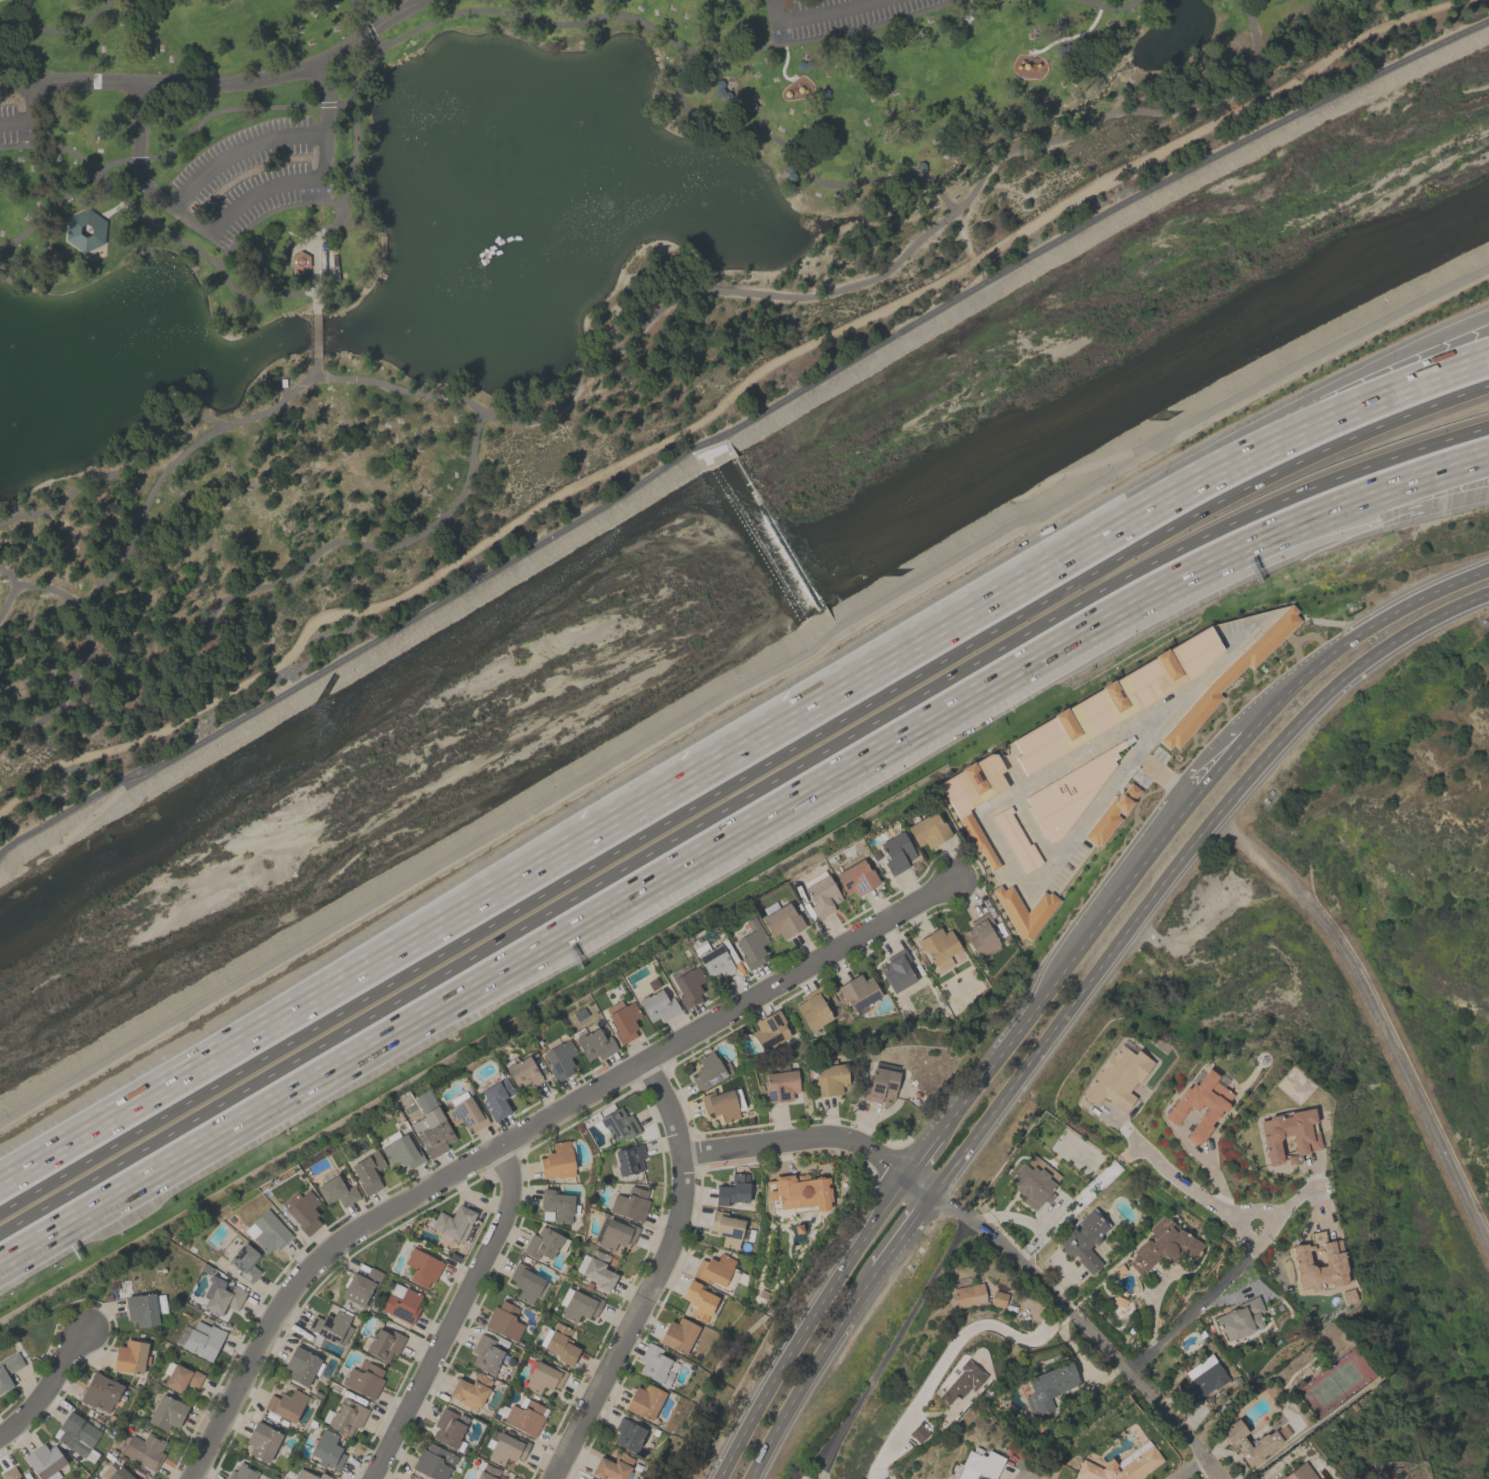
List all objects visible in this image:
road: (424, 0)
road: (1109, 8)
road: (820, 16)
road: (537, 20)
road: (366, 24)
road: (62, 29)
road: (223, 84)
road: (215, 112)
road: (27, 118)
road: (324, 121)
road: (239, 153)
road: (964, 166)
road: (140, 176)
road: (259, 192)
road: (939, 193)
road: (52, 210)
road: (112, 210)
road: (267, 211)
river: (1384, 227)
road: (164, 231)
road: (103, 243)
road: (967, 247)
building: (299, 262)
park: (494, 281)
road: (745, 289)
road: (316, 336)
road: (723, 401)
road: (737, 427)
road: (153, 430)
road: (1204, 459)
road: (1421, 474)
road: (1207, 487)
road: (146, 504)
road: (386, 550)
road: (1259, 560)
road: (13, 591)
river: (639, 628)
road: (1356, 636)
road: (85, 656)
road: (742, 687)
building: (1115, 700)
road: (766, 739)
road: (1212, 762)
road: (1125, 769)
road: (1161, 775)
road: (732, 779)
building: (1068, 793)
building: (973, 797)
road: (731, 803)
building: (928, 830)
building: (1016, 839)
building: (896, 852)
road: (1175, 859)
road: (671, 871)
building: (856, 877)
building: (821, 894)
building: (1023, 910)
building: (780, 919)
building: (980, 935)
building: (751, 944)
building: (939, 947)
building: (713, 959)
road: (1057, 962)
building: (896, 970)
building: (689, 987)
building: (858, 991)
building: (658, 1005)
building: (813, 1009)
road: (297, 1012)
road: (1374, 1012)
building: (622, 1019)
park: (1369, 1020)
building: (770, 1030)
building: (594, 1044)
building: (559, 1057)
building: (709, 1070)
building: (522, 1072)
building: (829, 1078)
building: (1117, 1078)
building: (880, 1085)
building: (780, 1086)
building: (497, 1098)
building: (723, 1104)
building: (1200, 1104)
building: (465, 1112)
building: (617, 1121)
building: (431, 1126)
road: (527, 1132)
building: (1288, 1133)
road: (814, 1139)
building: (401, 1150)
road: (916, 1152)
building: (629, 1159)
building: (558, 1161)
building: (368, 1172)
road: (1216, 1176)
building: (1033, 1181)
road: (1189, 1188)
building: (336, 1189)
building: (733, 1189)
building: (797, 1194)
road: (1295, 1198)
building: (630, 1204)
building: (557, 1205)
road: (1315, 1205)
building: (302, 1210)
building: (452, 1224)
building: (726, 1228)
building: (267, 1231)
road: (901, 1233)
building: (616, 1234)
building: (1084, 1239)
building: (545, 1243)
building: (1162, 1245)
building: (245, 1261)
building: (1331, 1265)
building: (422, 1267)
building: (598, 1270)
building: (718, 1272)
road: (658, 1277)
building: (525, 1282)
building: (360, 1286)
building: (969, 1294)
building: (222, 1296)
building: (998, 1298)
building: (698, 1301)
road: (1200, 1301)
building: (401, 1303)
building: (578, 1305)
building: (145, 1308)
road: (457, 1315)
building: (1240, 1319)
building: (504, 1321)
road: (802, 1322)
road: (1084, 1325)
building: (330, 1328)
road: (969, 1328)
building: (678, 1335)
building: (203, 1340)
building: (382, 1343)
building: (559, 1343)
road: (890, 1346)
building: (485, 1354)
building: (130, 1356)
building: (302, 1365)
building: (656, 1365)
building: (8, 1369)
road: (811, 1373)
building: (543, 1376)
building: (182, 1377)
building: (1202, 1378)
building: (364, 1379)
building: (962, 1381)
road: (48, 1386)
building: (1048, 1386)
building: (470, 1390)
building: (100, 1392)
building: (644, 1401)
building: (286, 1404)
building: (167, 1412)
building: (523, 1415)
building: (347, 1416)
building: (449, 1428)
building: (918, 1433)
building: (628, 1434)
building: (77, 1435)
building: (262, 1440)
building: (1267, 1443)
building: (505, 1446)
building: (145, 1449)
building: (327, 1449)
building: (45, 1462)
building: (433, 1462)
building: (979, 1464)
building: (613, 1467)
building: (1120, 1467)
road: (1186, 1467)
building: (485, 1471)
building: (242, 1472)
building: (1299, 1472)
building: (10, 1473)
building: (115, 1473)
building: (309, 1475)
road: (814, 1477)
road: (1023, 1477)
building: (406, 1478)
building: (589, 1478)

